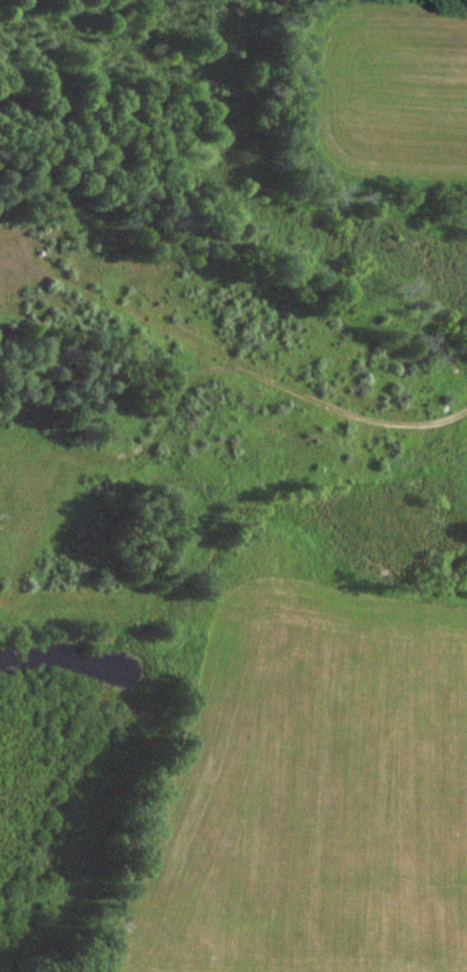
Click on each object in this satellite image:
road: (237, 473)

